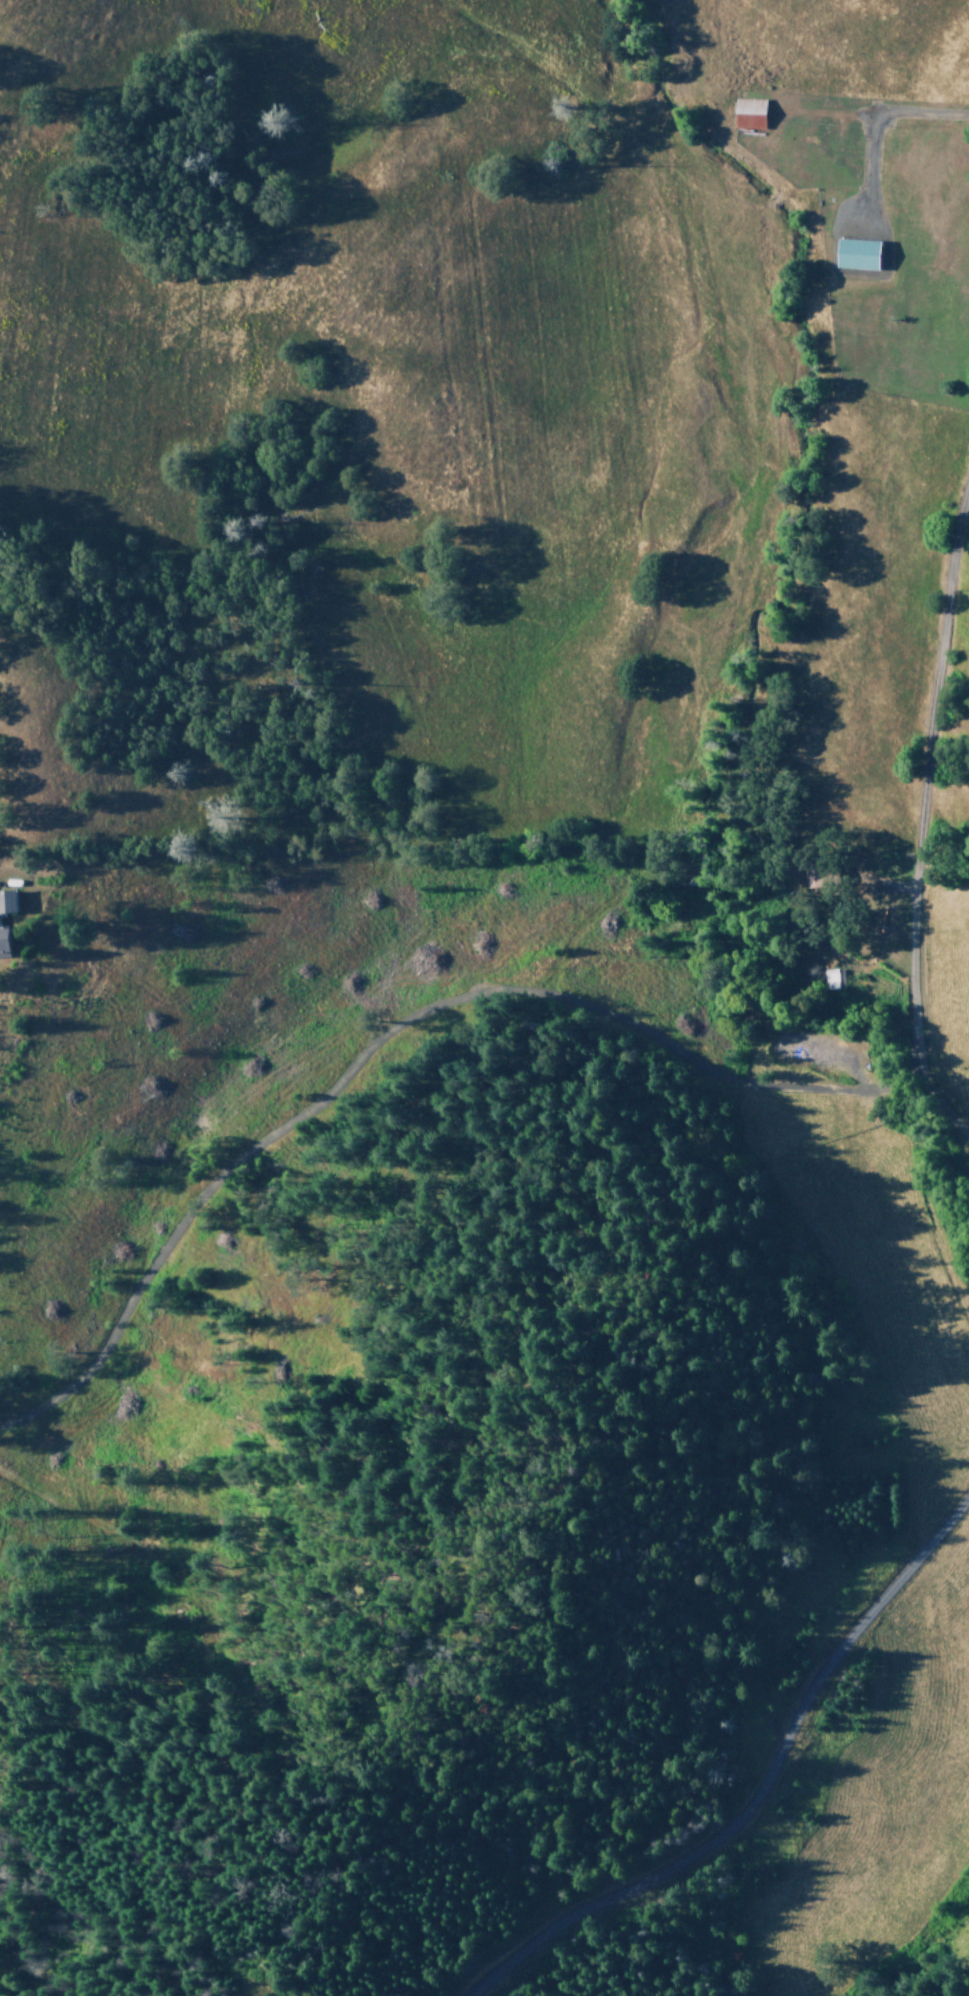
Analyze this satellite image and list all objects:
building: (749, 114)
road: (923, 114)
building: (857, 255)
road: (914, 806)
building: (6, 902)
building: (3, 943)
building: (832, 978)

